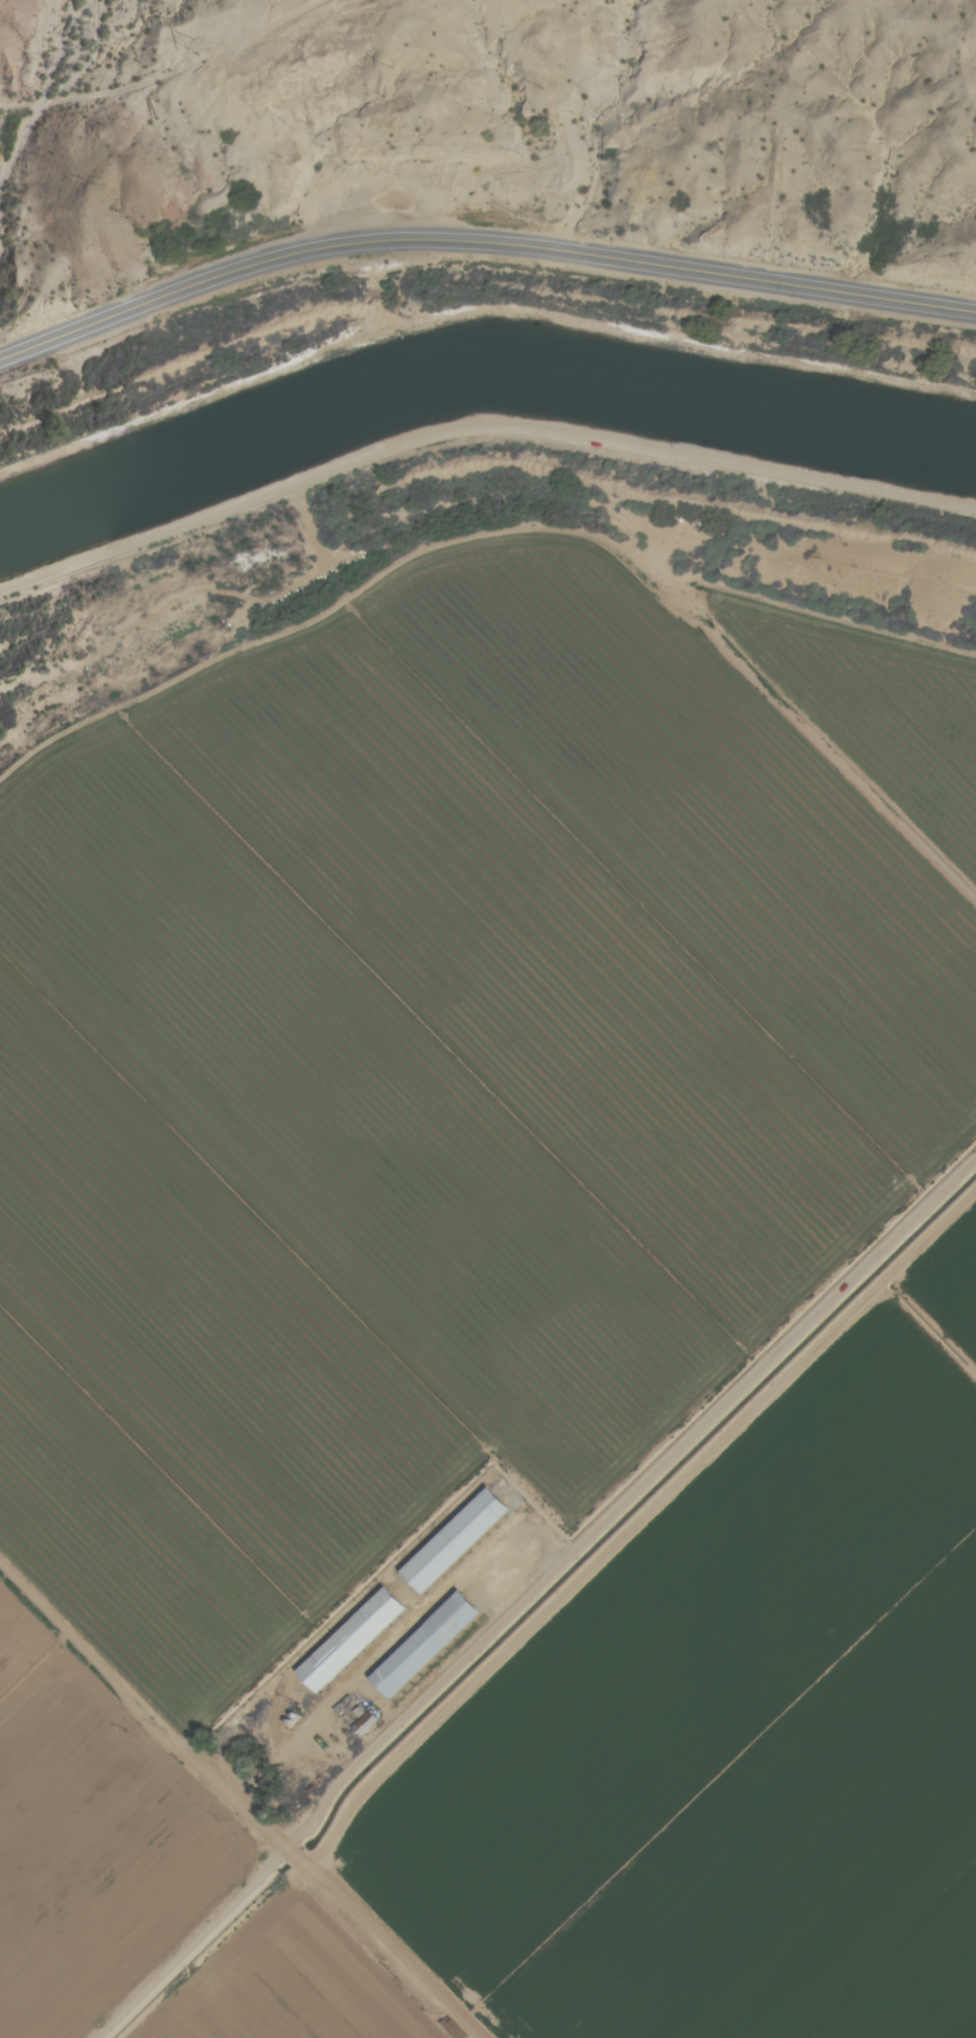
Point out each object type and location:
power tower: (200, 46)
road: (480, 244)
crop: (428, 1089)
building: (466, 1537)
building: (360, 1635)
building: (434, 1643)

